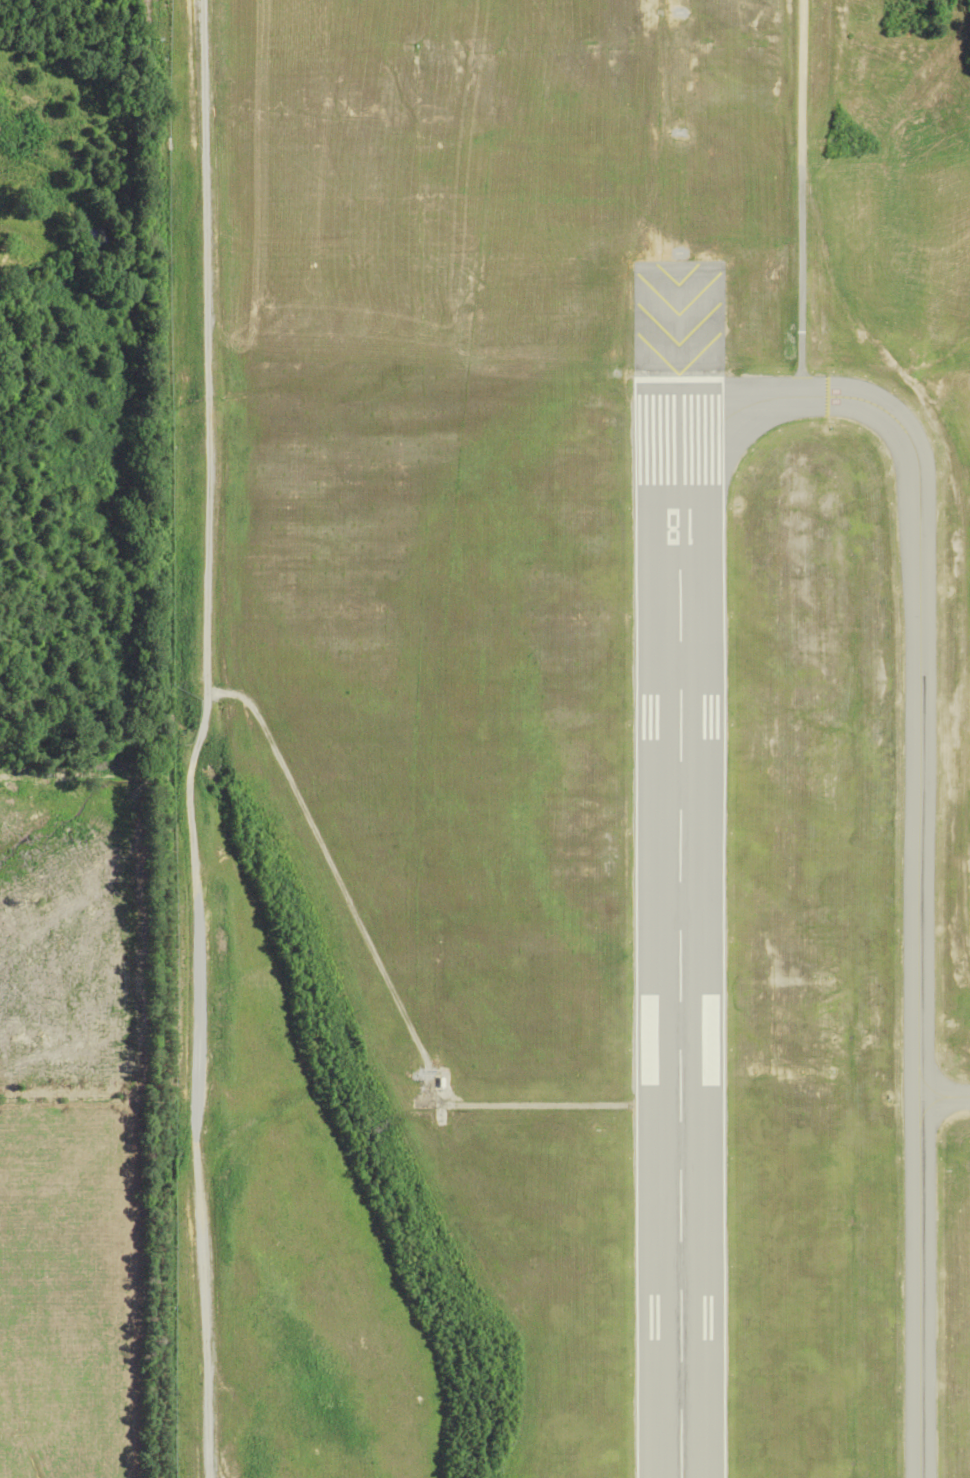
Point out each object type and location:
airport taxiway: (920, 826)
airport runway: (682, 874)
building: (649, 1009)
building: (712, 1010)
airport taxiway: (946, 1096)
road: (205, 1392)

